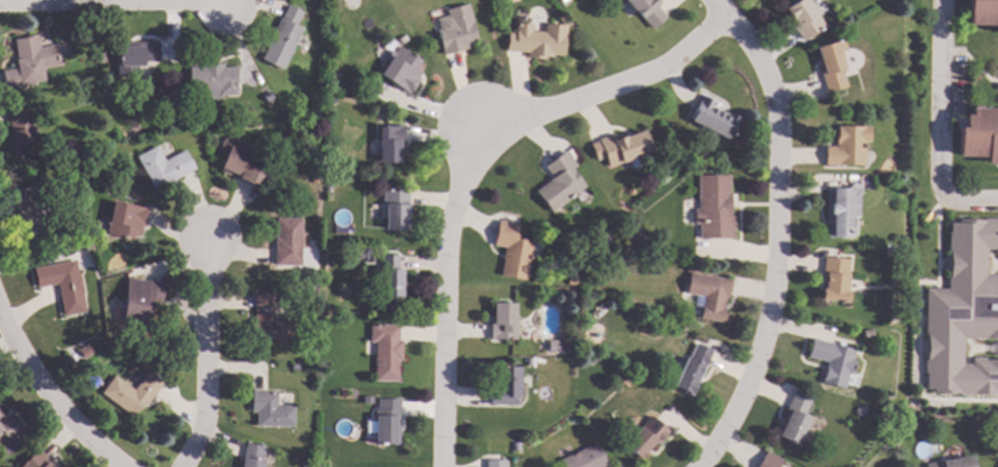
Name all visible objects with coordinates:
building: (563, 1)
road: (81, 2)
road: (214, 4)
building: (647, 12)
building: (983, 13)
building: (802, 20)
building: (457, 31)
building: (283, 39)
building: (536, 42)
road: (952, 53)
building: (135, 55)
building: (99, 59)
building: (29, 64)
building: (830, 66)
building: (401, 71)
road: (980, 71)
road: (997, 74)
building: (213, 81)
road: (951, 114)
building: (174, 117)
building: (713, 120)
road: (951, 121)
road: (961, 121)
road: (940, 124)
building: (20, 130)
building: (980, 136)
building: (315, 141)
building: (389, 143)
building: (846, 147)
building: (620, 148)
building: (240, 163)
road: (471, 166)
building: (162, 168)
building: (313, 177)
building: (559, 182)
building: (327, 190)
building: (713, 209)
building: (394, 210)
building: (31, 212)
building: (839, 212)
building: (124, 221)
road: (778, 231)
building: (603, 239)
building: (286, 242)
building: (596, 245)
building: (511, 251)
building: (888, 254)
building: (359, 258)
road: (991, 262)
road: (995, 266)
building: (389, 277)
building: (833, 281)
building: (570, 282)
building: (62, 286)
road: (937, 286)
building: (313, 287)
building: (709, 296)
building: (140, 303)
building: (962, 313)
road: (921, 319)
building: (267, 322)
building: (502, 323)
road: (917, 324)
building: (865, 333)
building: (552, 346)
road: (983, 349)
road: (968, 351)
building: (83, 352)
building: (385, 352)
road: (208, 355)
building: (831, 362)
building: (528, 364)
building: (294, 368)
building: (691, 371)
building: (505, 388)
building: (131, 394)
road: (48, 395)
building: (366, 400)
building: (269, 411)
building: (858, 412)
building: (0, 415)
building: (794, 421)
building: (386, 423)
building: (7, 428)
building: (645, 439)
building: (893, 443)
building: (515, 447)
building: (251, 456)
building: (585, 458)
building: (36, 461)
building: (768, 461)
building: (495, 463)
building: (955, 463)
building: (306, 464)

